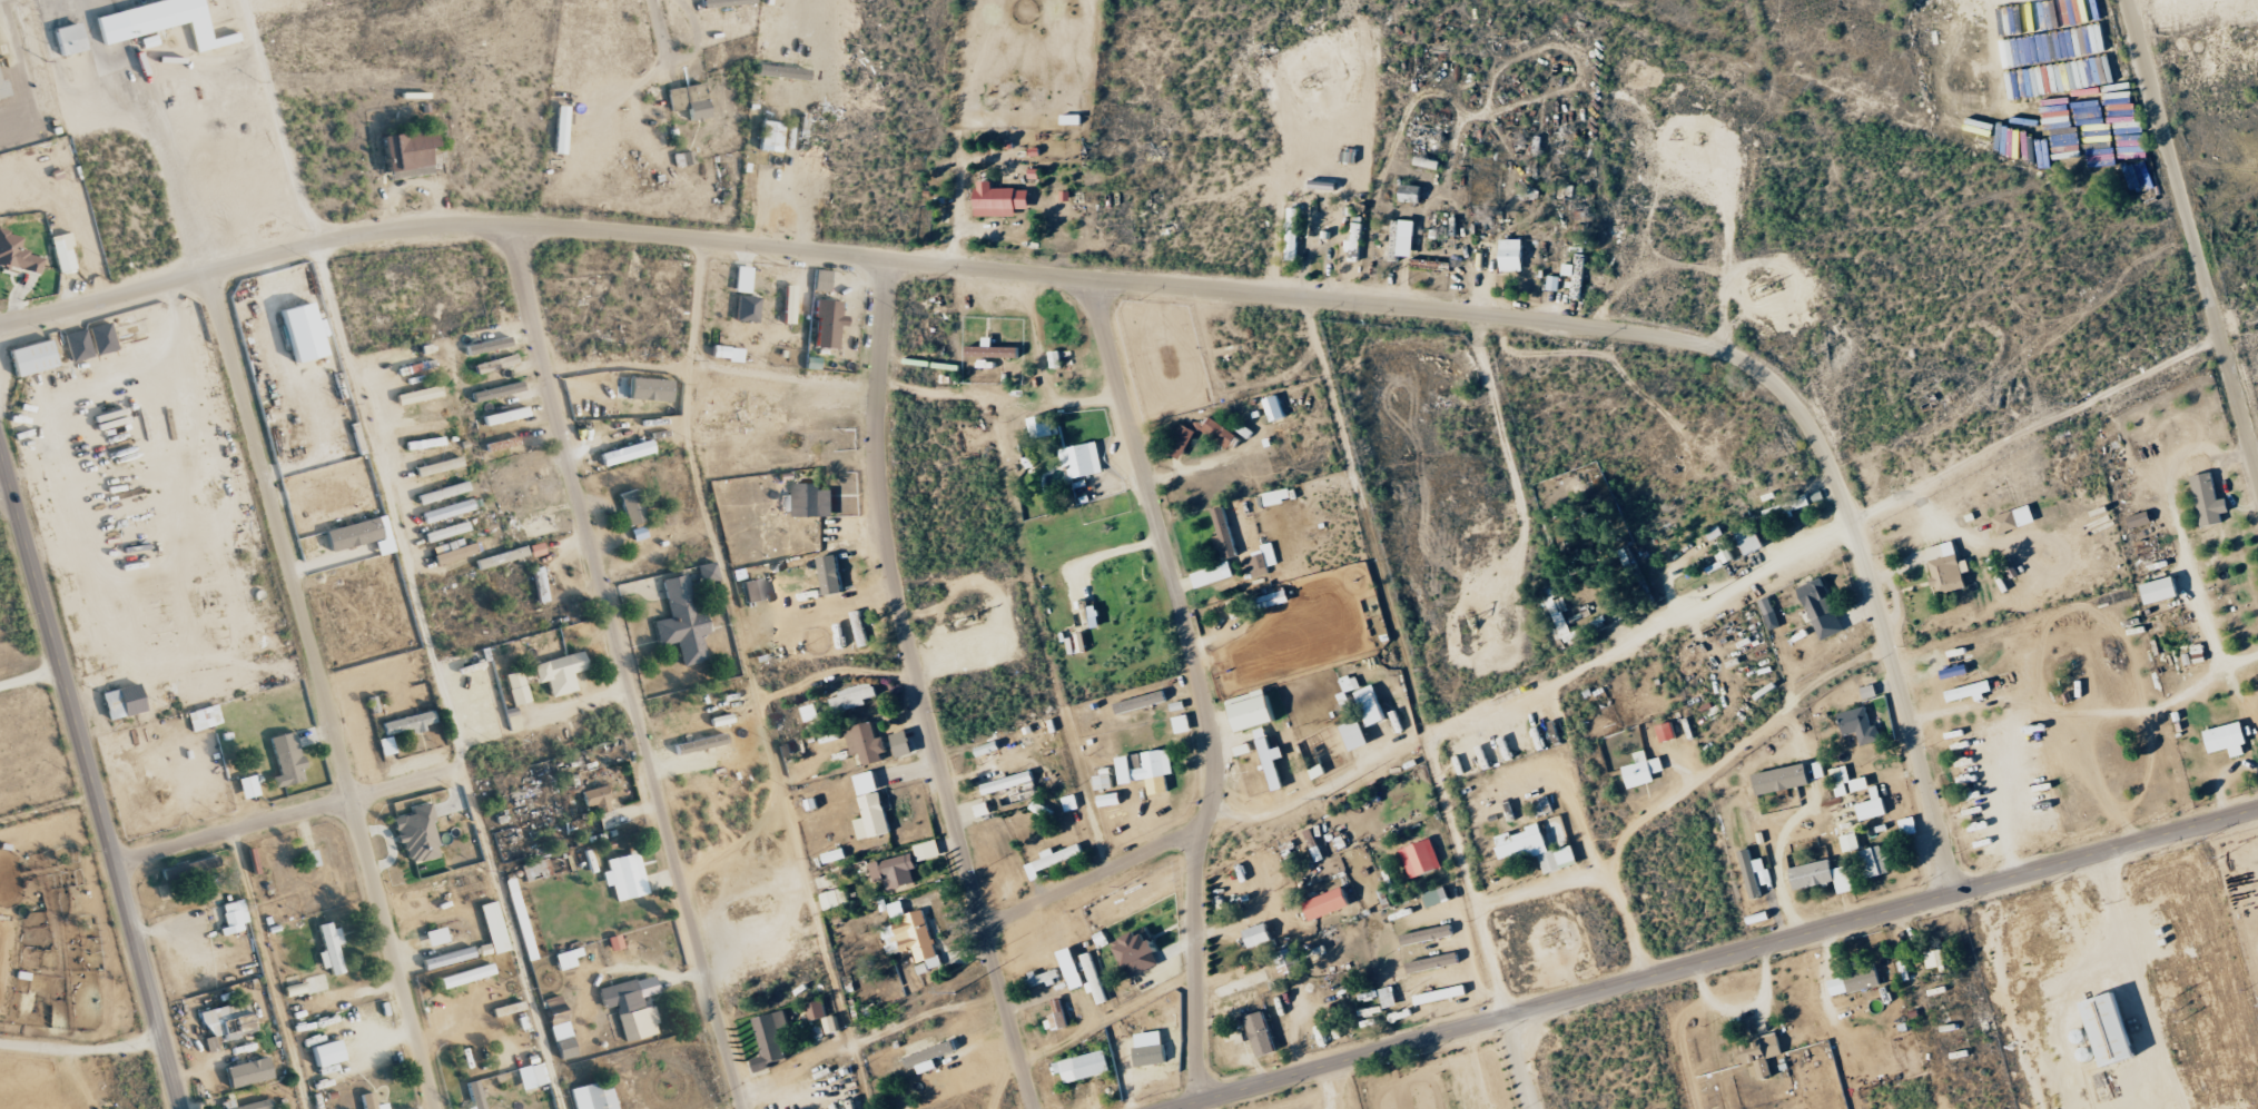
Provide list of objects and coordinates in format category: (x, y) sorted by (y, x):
building: (727, 2)
road: (92, 3)
building: (160, 21)
road: (657, 28)
building: (69, 38)
building: (2, 88)
building: (690, 100)
road: (278, 121)
road: (151, 129)
building: (561, 129)
building: (771, 136)
building: (412, 151)
building: (683, 158)
building: (1411, 194)
road: (781, 197)
building: (1002, 199)
road: (2193, 232)
building: (1293, 234)
building: (1402, 239)
building: (1354, 241)
building: (17, 253)
building: (63, 253)
building: (1512, 255)
building: (1576, 276)
building: (743, 279)
building: (821, 280)
building: (1552, 283)
road: (1158, 284)
building: (789, 304)
building: (748, 308)
building: (826, 323)
building: (102, 338)
building: (78, 345)
building: (487, 345)
building: (993, 349)
building: (33, 357)
building: (1055, 358)
building: (496, 364)
building: (651, 388)
building: (497, 392)
building: (421, 394)
building: (1275, 408)
building: (752, 409)
building: (505, 415)
building: (612, 416)
building: (1043, 426)
building: (425, 427)
road: (2035, 427)
building: (1244, 430)
building: (1221, 432)
building: (1182, 440)
building: (428, 443)
building: (511, 445)
building: (628, 453)
building: (1084, 459)
building: (440, 466)
road: (3, 485)
building: (443, 492)
building: (1276, 496)
building: (811, 499)
building: (2209, 499)
building: (632, 506)
building: (1786, 508)
building: (447, 511)
building: (2014, 518)
building: (2140, 519)
building: (541, 526)
building: (446, 532)
building: (1224, 533)
building: (354, 534)
building: (1749, 538)
road: (2022, 539)
building: (384, 546)
building: (536, 549)
building: (1725, 552)
building: (455, 553)
building: (502, 557)
building: (1261, 558)
building: (1948, 567)
building: (707, 572)
building: (831, 574)
building: (1213, 574)
building: (540, 584)
building: (753, 590)
building: (2162, 590)
building: (1275, 598)
building: (1816, 600)
building: (1766, 605)
building: (682, 622)
building: (1830, 625)
road: (622, 669)
building: (560, 673)
road: (29, 677)
building: (1350, 683)
road: (1202, 685)
building: (517, 687)
road: (321, 689)
road: (920, 689)
building: (1870, 691)
building: (1971, 691)
building: (852, 697)
road: (1515, 699)
building: (1141, 702)
building: (114, 704)
building: (1372, 705)
building: (1254, 710)
building: (204, 717)
building: (410, 723)
building: (1182, 723)
building: (1860, 725)
building: (1667, 732)
road: (1766, 732)
building: (1357, 734)
building: (2227, 736)
building: (700, 744)
building: (867, 744)
building: (386, 745)
building: (287, 759)
building: (1272, 759)
building: (1146, 765)
building: (1643, 770)
building: (1783, 779)
building: (1840, 780)
building: (1104, 781)
road: (90, 782)
building: (1008, 782)
building: (1860, 784)
building: (248, 786)
building: (1017, 793)
building: (596, 799)
building: (1111, 800)
road: (1291, 802)
building: (1872, 805)
road: (47, 806)
building: (871, 806)
building: (1542, 806)
road: (278, 815)
building: (605, 820)
building: (1907, 826)
building: (417, 834)
building: (1852, 842)
building: (1537, 849)
building: (928, 850)
building: (310, 859)
building: (1053, 859)
building: (1422, 859)
building: (1875, 862)
building: (532, 870)
building: (894, 871)
building: (1754, 873)
building: (624, 875)
building: (1822, 875)
road: (1097, 879)
road: (1541, 888)
road: (1615, 893)
building: (1437, 897)
building: (836, 899)
building: (1329, 903)
building: (896, 909)
building: (234, 915)
building: (519, 915)
building: (494, 928)
building: (1259, 934)
building: (1427, 934)
building: (436, 935)
building: (913, 939)
building: (614, 942)
building: (331, 948)
building: (1140, 952)
road: (1715, 957)
building: (448, 958)
building: (566, 959)
building: (1935, 960)
building: (1289, 962)
building: (1434, 962)
building: (466, 976)
building: (1855, 981)
building: (1243, 983)
building: (303, 987)
building: (1441, 994)
building: (1387, 997)
building: (632, 1007)
building: (816, 1010)
building: (1057, 1020)
building: (228, 1021)
building: (832, 1024)
building: (560, 1027)
building: (2111, 1032)
building: (1261, 1034)
building: (771, 1039)
road: (80, 1049)
building: (328, 1053)
building: (1761, 1054)
building: (1151, 1056)
building: (930, 1057)
road: (1518, 1062)
building: (1085, 1066)
building: (248, 1072)
building: (532, 1076)
building: (475, 1095)
building: (594, 1096)
building: (373, 1102)
building: (249, 1105)

